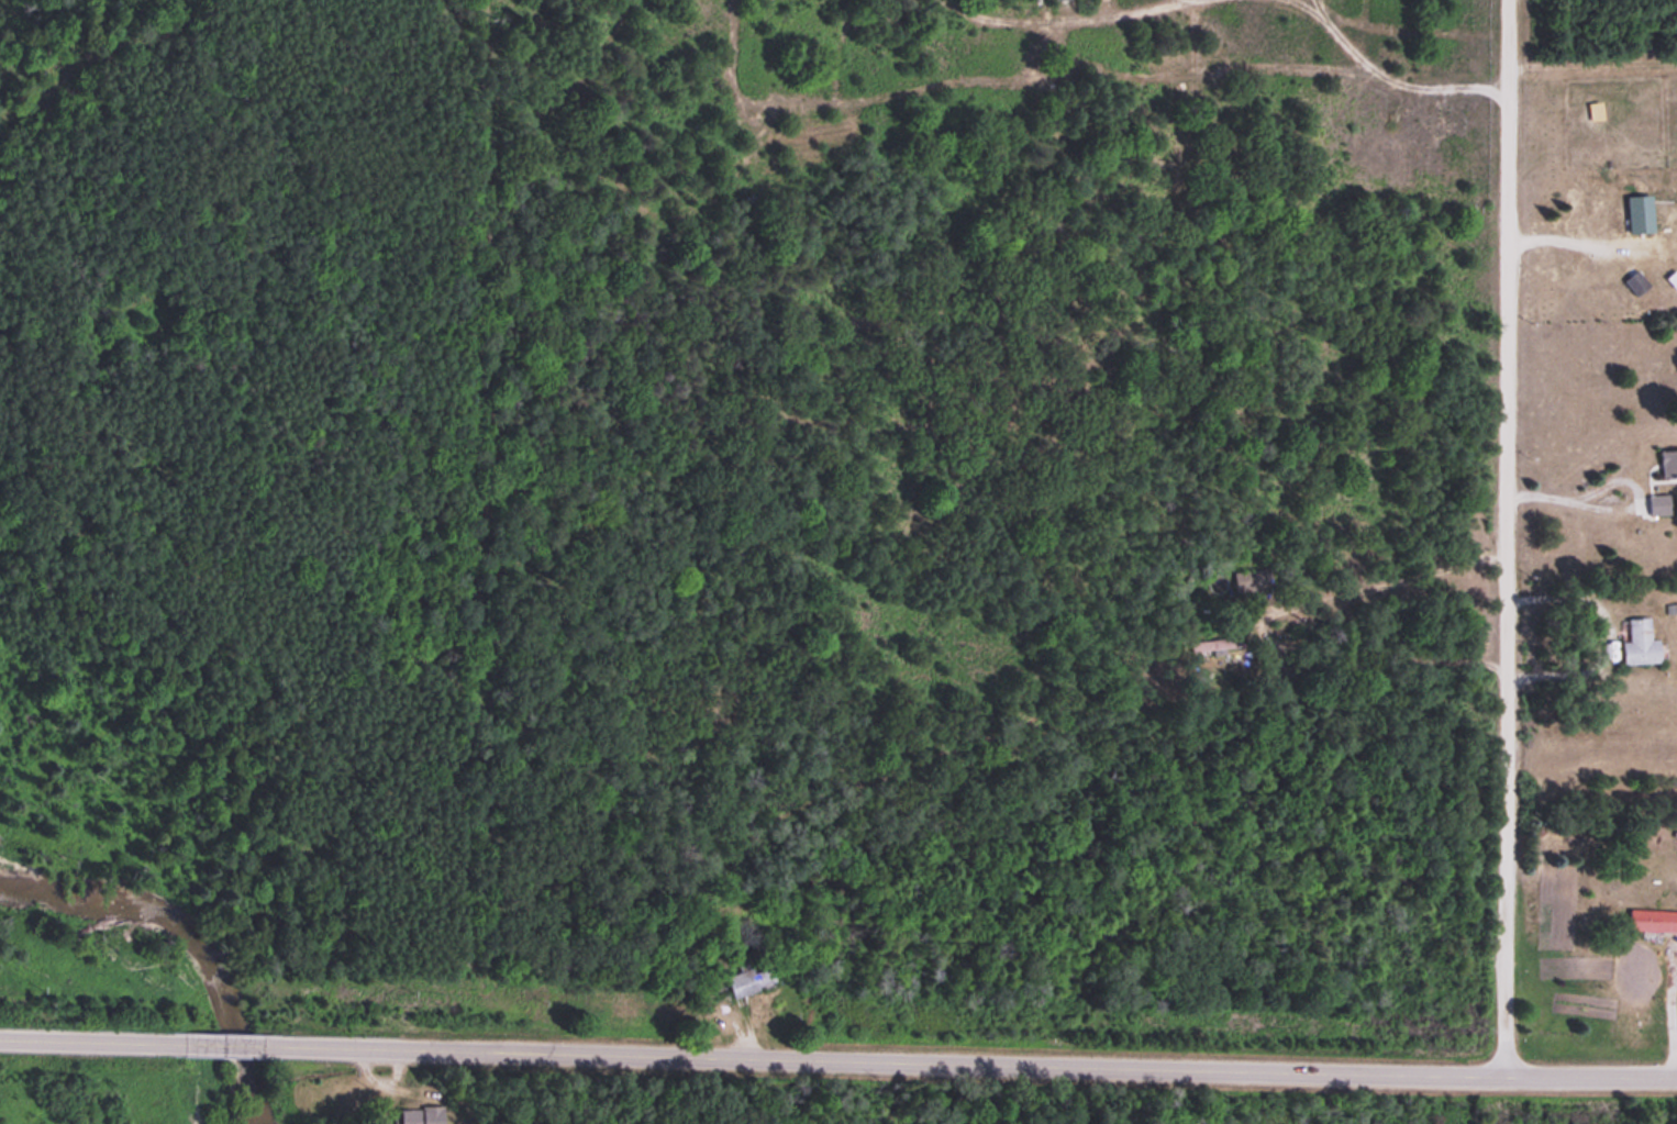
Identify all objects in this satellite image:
building: (1633, 221)
building: (1632, 281)
building: (1656, 502)
building: (1630, 532)
road: (1502, 537)
building: (1210, 638)
building: (1637, 641)
river: (207, 916)
building: (1651, 920)
building: (747, 977)
road: (85, 1043)
road: (226, 1046)
road: (979, 1062)
building: (417, 1115)

